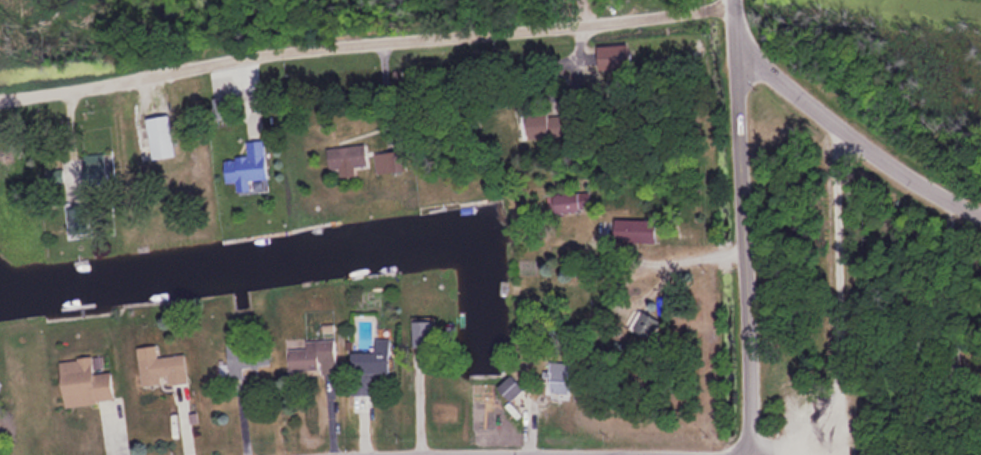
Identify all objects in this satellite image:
road: (364, 40)
building: (616, 54)
building: (223, 104)
building: (552, 123)
building: (161, 135)
road: (846, 140)
building: (349, 154)
building: (394, 159)
building: (249, 164)
building: (98, 170)
building: (573, 200)
building: (78, 218)
road: (743, 227)
building: (639, 229)
building: (654, 323)
building: (422, 332)
building: (314, 353)
building: (248, 357)
building: (378, 358)
building: (166, 368)
building: (563, 376)
building: (87, 380)
building: (512, 386)
road: (742, 449)
road: (527, 453)

